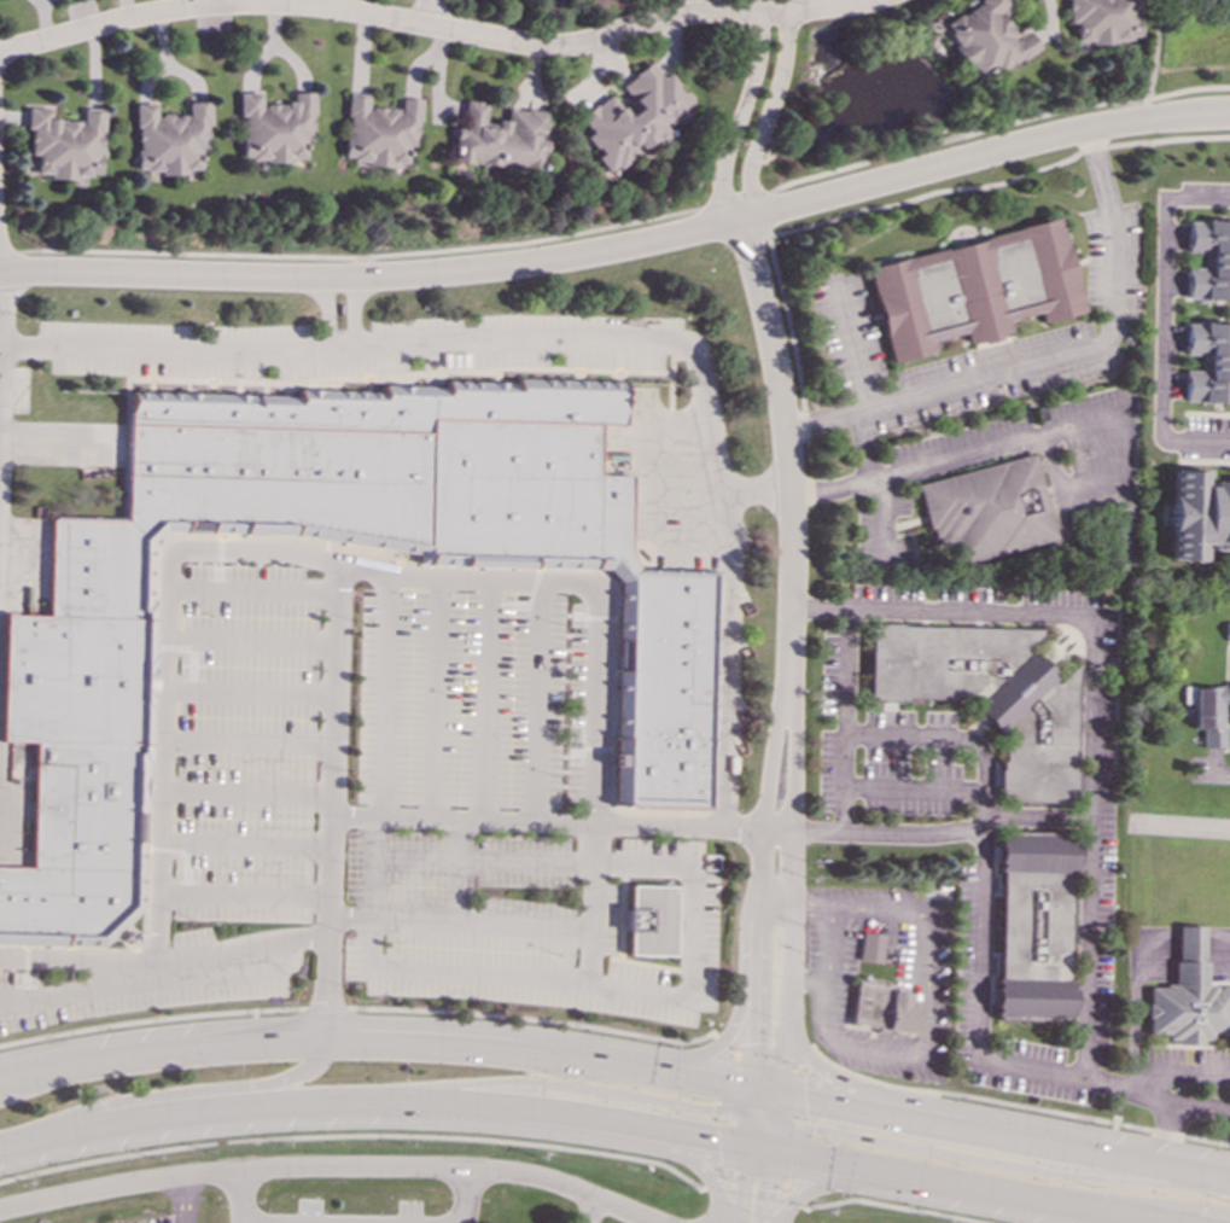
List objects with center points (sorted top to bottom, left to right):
road: (693, 7)
road: (834, 8)
road: (416, 12)
road: (394, 19)
building: (1102, 19)
building: (984, 37)
road: (1152, 59)
road: (1214, 87)
road: (765, 115)
road: (1188, 115)
building: (634, 116)
road: (739, 117)
building: (273, 128)
building: (379, 132)
building: (499, 136)
building: (169, 139)
building: (64, 142)
road: (944, 167)
road: (977, 185)
road: (606, 226)
building: (1208, 260)
road: (0, 273)
road: (373, 276)
building: (973, 289)
road: (0, 293)
road: (326, 313)
road: (352, 313)
road: (1165, 322)
road: (789, 327)
road: (587, 340)
parking lot: (357, 345)
road: (619, 356)
road: (1049, 359)
building: (1207, 362)
road: (152, 365)
road: (400, 374)
road: (862, 388)
road: (671, 390)
road: (59, 442)
road: (785, 449)
road: (958, 454)
road: (756, 495)
road: (655, 497)
road: (881, 506)
building: (987, 509)
building: (1197, 514)
road: (285, 537)
road: (220, 564)
road: (583, 582)
road: (252, 590)
road: (526, 605)
road: (534, 605)
road: (594, 616)
building: (1228, 629)
road: (251, 640)
road: (173, 647)
road: (191, 663)
building: (75, 677)
road: (250, 691)
building: (989, 695)
road: (849, 697)
road: (386, 698)
road: (436, 699)
parking lot: (485, 699)
road: (486, 699)
road: (536, 700)
road: (1094, 700)
building: (1207, 712)
road: (247, 741)
parking lot: (246, 744)
road: (585, 745)
road: (597, 749)
road: (163, 759)
road: (1220, 774)
road: (907, 785)
road: (246, 793)
road: (330, 803)
road: (1030, 815)
road: (546, 822)
road: (777, 827)
road: (245, 843)
road: (167, 850)
road: (791, 854)
road: (482, 861)
road: (186, 868)
road: (371, 868)
road: (457, 872)
road: (760, 883)
road: (243, 895)
road: (590, 902)
road: (811, 907)
road: (606, 919)
building: (649, 920)
parking lot: (534, 921)
road: (457, 924)
building: (1032, 934)
road: (620, 948)
road: (78, 960)
road: (25, 972)
parking lot: (153, 980)
road: (979, 980)
road: (619, 988)
road: (80, 989)
building: (878, 994)
road: (923, 995)
road: (23, 996)
building: (1187, 997)
road: (741, 1001)
road: (326, 1008)
road: (151, 1019)
road: (535, 1019)
road: (375, 1041)
traffic signals: (756, 1043)
road: (752, 1056)
road: (803, 1058)
road: (781, 1059)
road: (1183, 1073)
road: (31, 1083)
road: (564, 1085)
road: (729, 1087)
road: (764, 1089)
road: (180, 1091)
road: (794, 1093)
traffic signals: (804, 1096)
road: (751, 1099)
road: (373, 1102)
road: (764, 1102)
road: (923, 1102)
road: (1018, 1106)
traffic signals: (711, 1110)
road: (775, 1111)
road: (748, 1129)
traffic signals: (814, 1129)
road: (1165, 1131)
road: (1003, 1132)
road: (355, 1135)
road: (758, 1136)
road: (590, 1138)
road: (771, 1141)
traffic signals: (717, 1143)
road: (727, 1148)
road: (758, 1151)
road: (793, 1153)
road: (999, 1164)
road: (332, 1165)
road: (717, 1181)
road: (759, 1182)
road: (742, 1186)
road: (814, 1187)
road: (765, 1188)
road: (958, 1188)
traffic signals: (765, 1189)
road: (466, 1195)
road: (795, 1195)
road: (241, 1196)
road: (186, 1200)
road: (1131, 1205)
road: (892, 1206)
road: (593, 1209)

